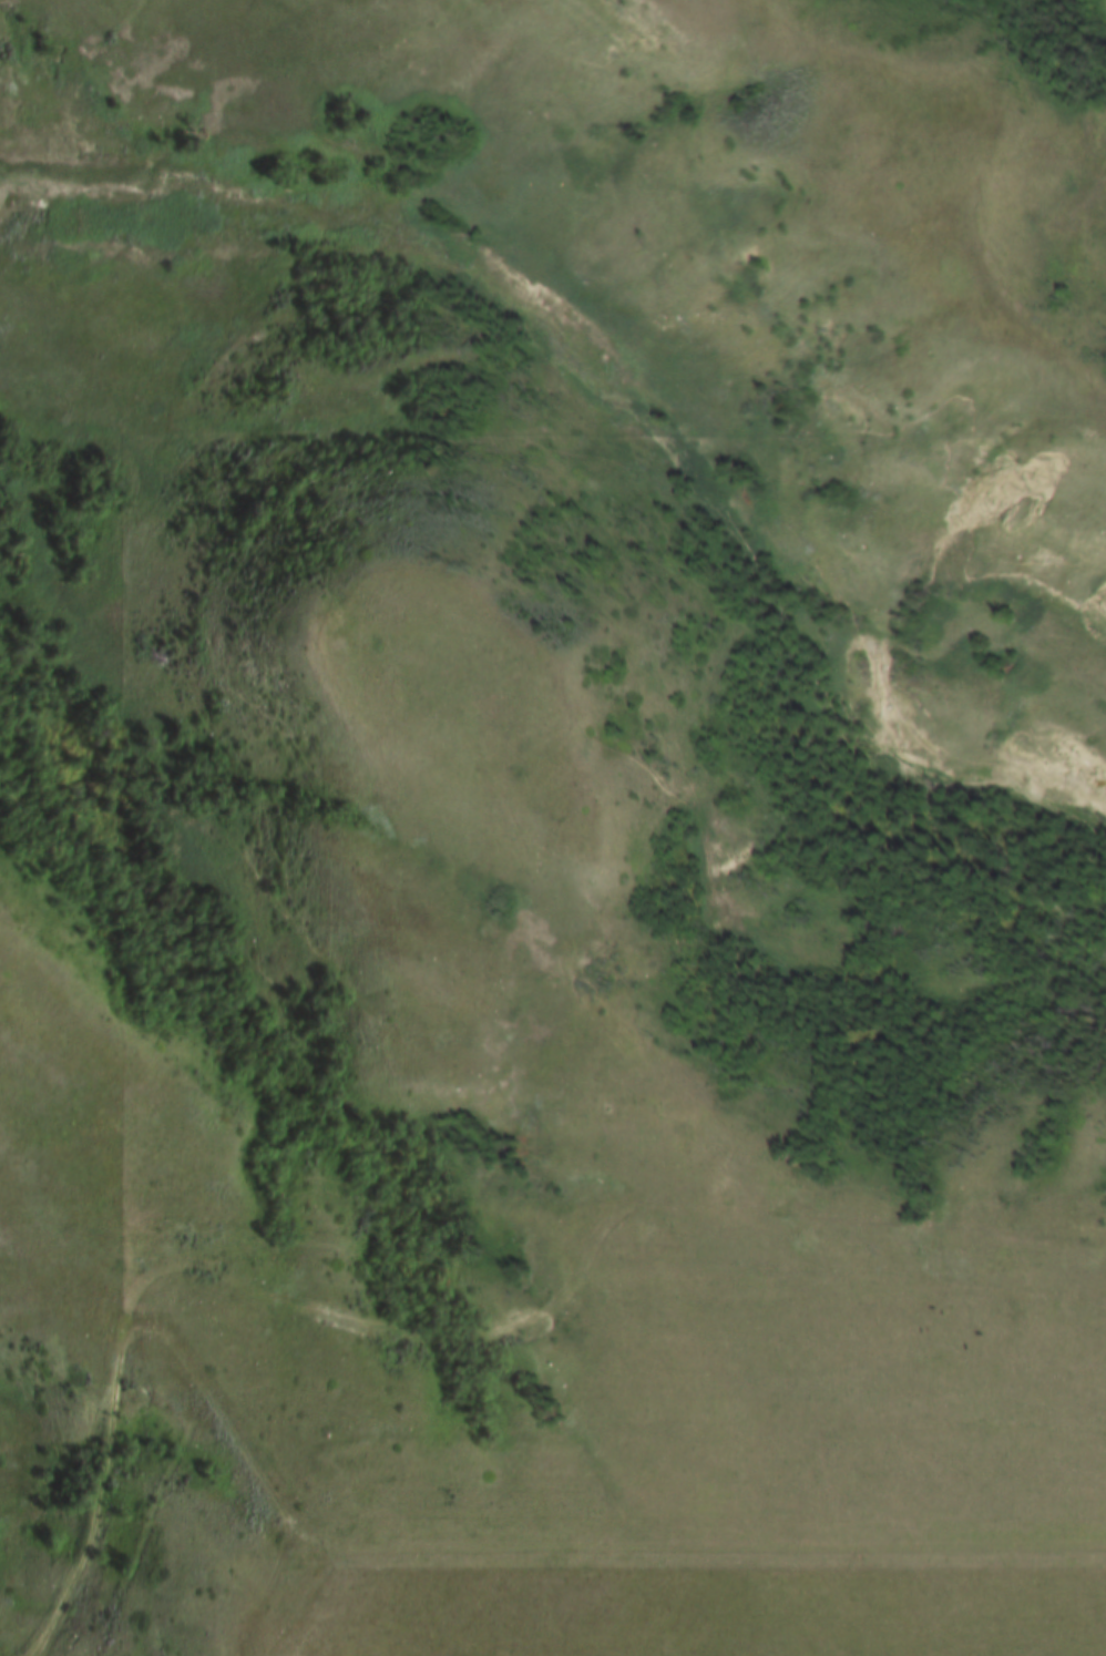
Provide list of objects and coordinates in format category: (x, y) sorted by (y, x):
road: (396, 1548)

